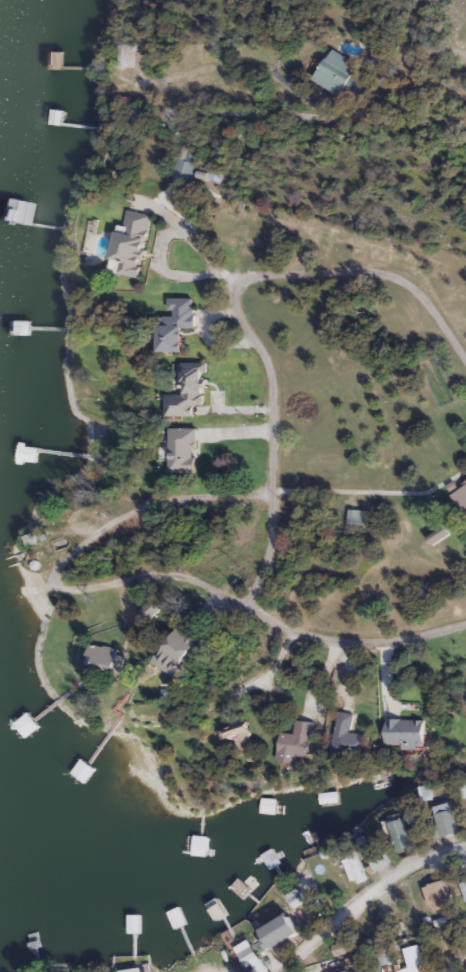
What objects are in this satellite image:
building: (56, 59)
road: (366, 92)
building: (140, 116)
road: (317, 118)
building: (204, 174)
building: (19, 210)
building: (132, 242)
road: (157, 256)
road: (236, 312)
building: (178, 324)
building: (21, 327)
building: (189, 390)
building: (184, 449)
building: (28, 454)
road: (370, 493)
building: (460, 496)
building: (359, 516)
building: (438, 533)
road: (138, 576)
building: (180, 648)
building: (110, 659)
building: (28, 722)
building: (405, 731)
building: (349, 736)
building: (238, 737)
building: (297, 740)
building: (327, 795)
building: (447, 817)
building: (402, 833)
building: (208, 843)
building: (381, 859)
building: (356, 864)
building: (464, 885)
road: (369, 893)
building: (441, 894)
building: (298, 896)
building: (286, 929)
building: (386, 932)
building: (343, 947)
building: (251, 953)
building: (386, 957)
building: (414, 959)
building: (327, 966)
building: (368, 969)
building: (136, 970)

